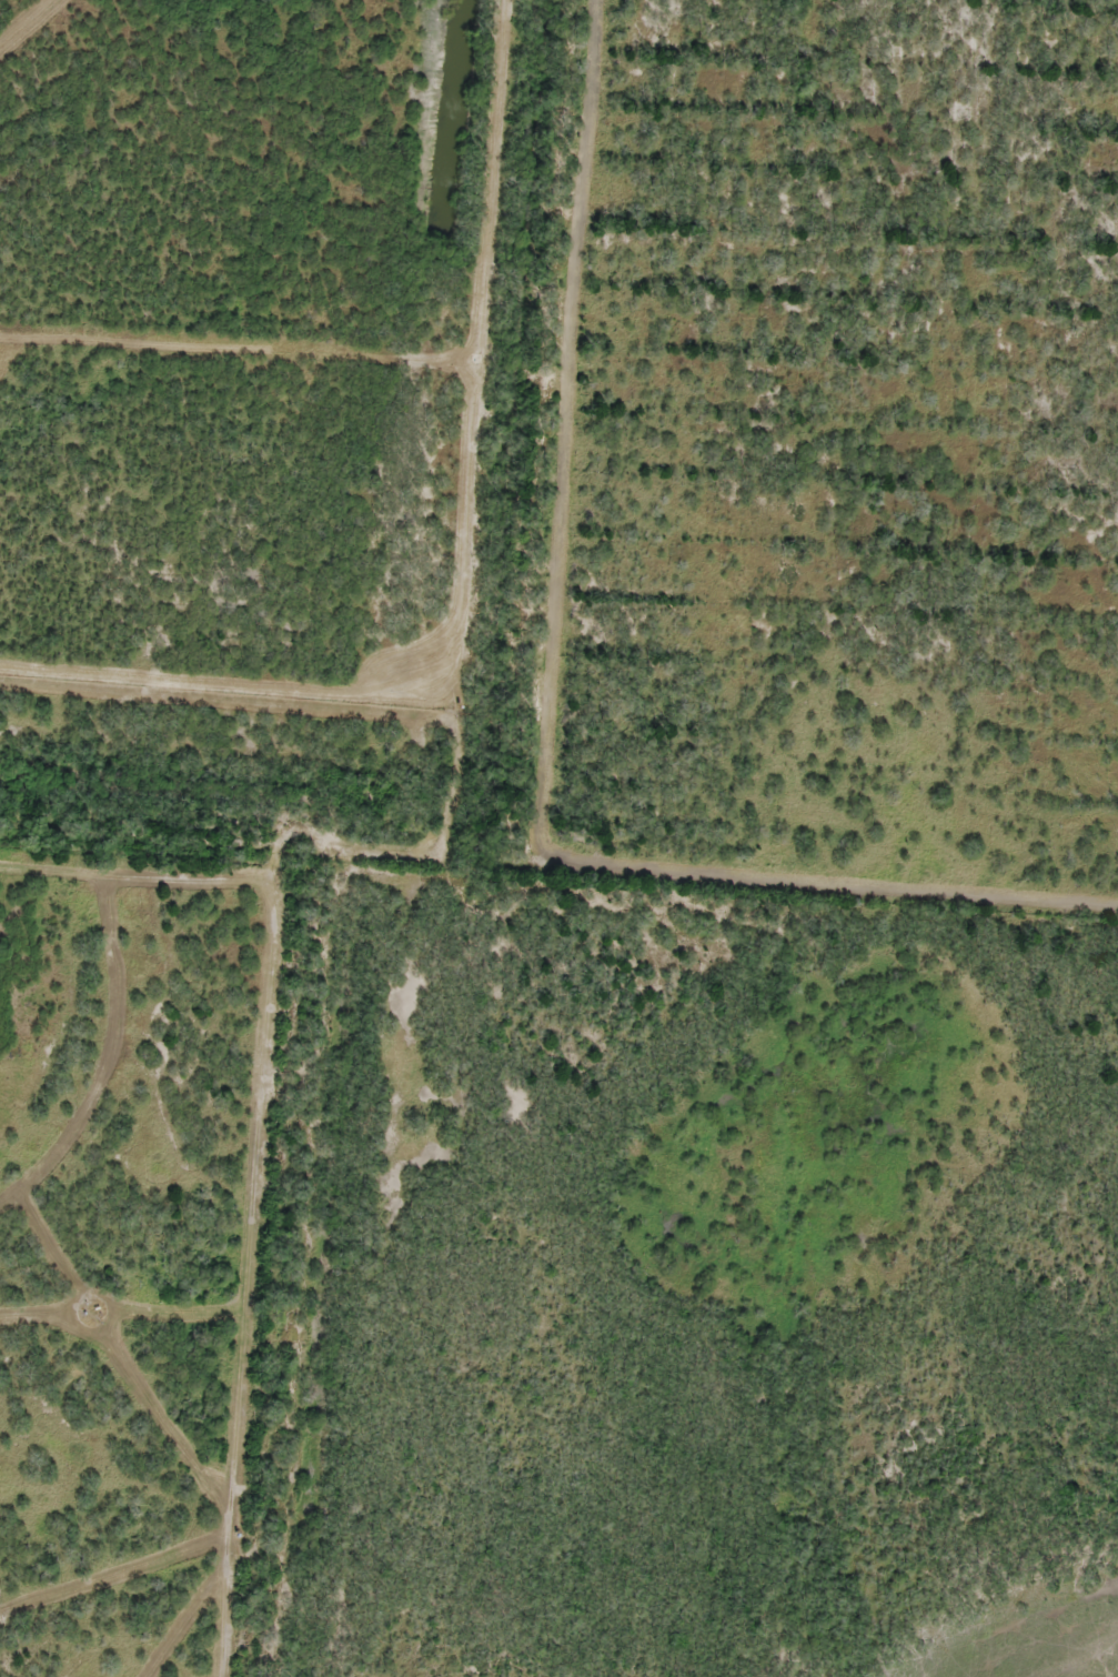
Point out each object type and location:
road: (558, 6)
road: (537, 428)
road: (279, 854)
road: (394, 1013)

